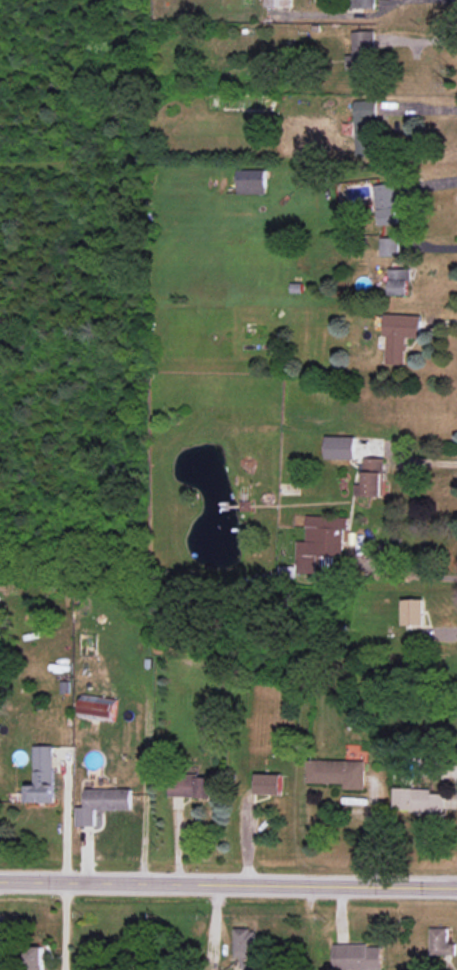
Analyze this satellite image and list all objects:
building: (278, 3)
building: (367, 3)
road: (329, 13)
road: (416, 38)
building: (363, 57)
road: (417, 108)
building: (366, 128)
building: (251, 181)
building: (387, 204)
building: (390, 246)
building: (400, 281)
building: (400, 336)
building: (340, 447)
road: (405, 460)
building: (372, 478)
building: (320, 541)
road: (412, 575)
building: (414, 612)
building: (99, 708)
building: (339, 772)
building: (42, 776)
building: (269, 783)
building: (191, 786)
road: (147, 792)
building: (419, 800)
building: (103, 803)
road: (228, 881)
building: (244, 942)
building: (441, 942)
building: (358, 956)
building: (36, 958)
building: (251, 966)

